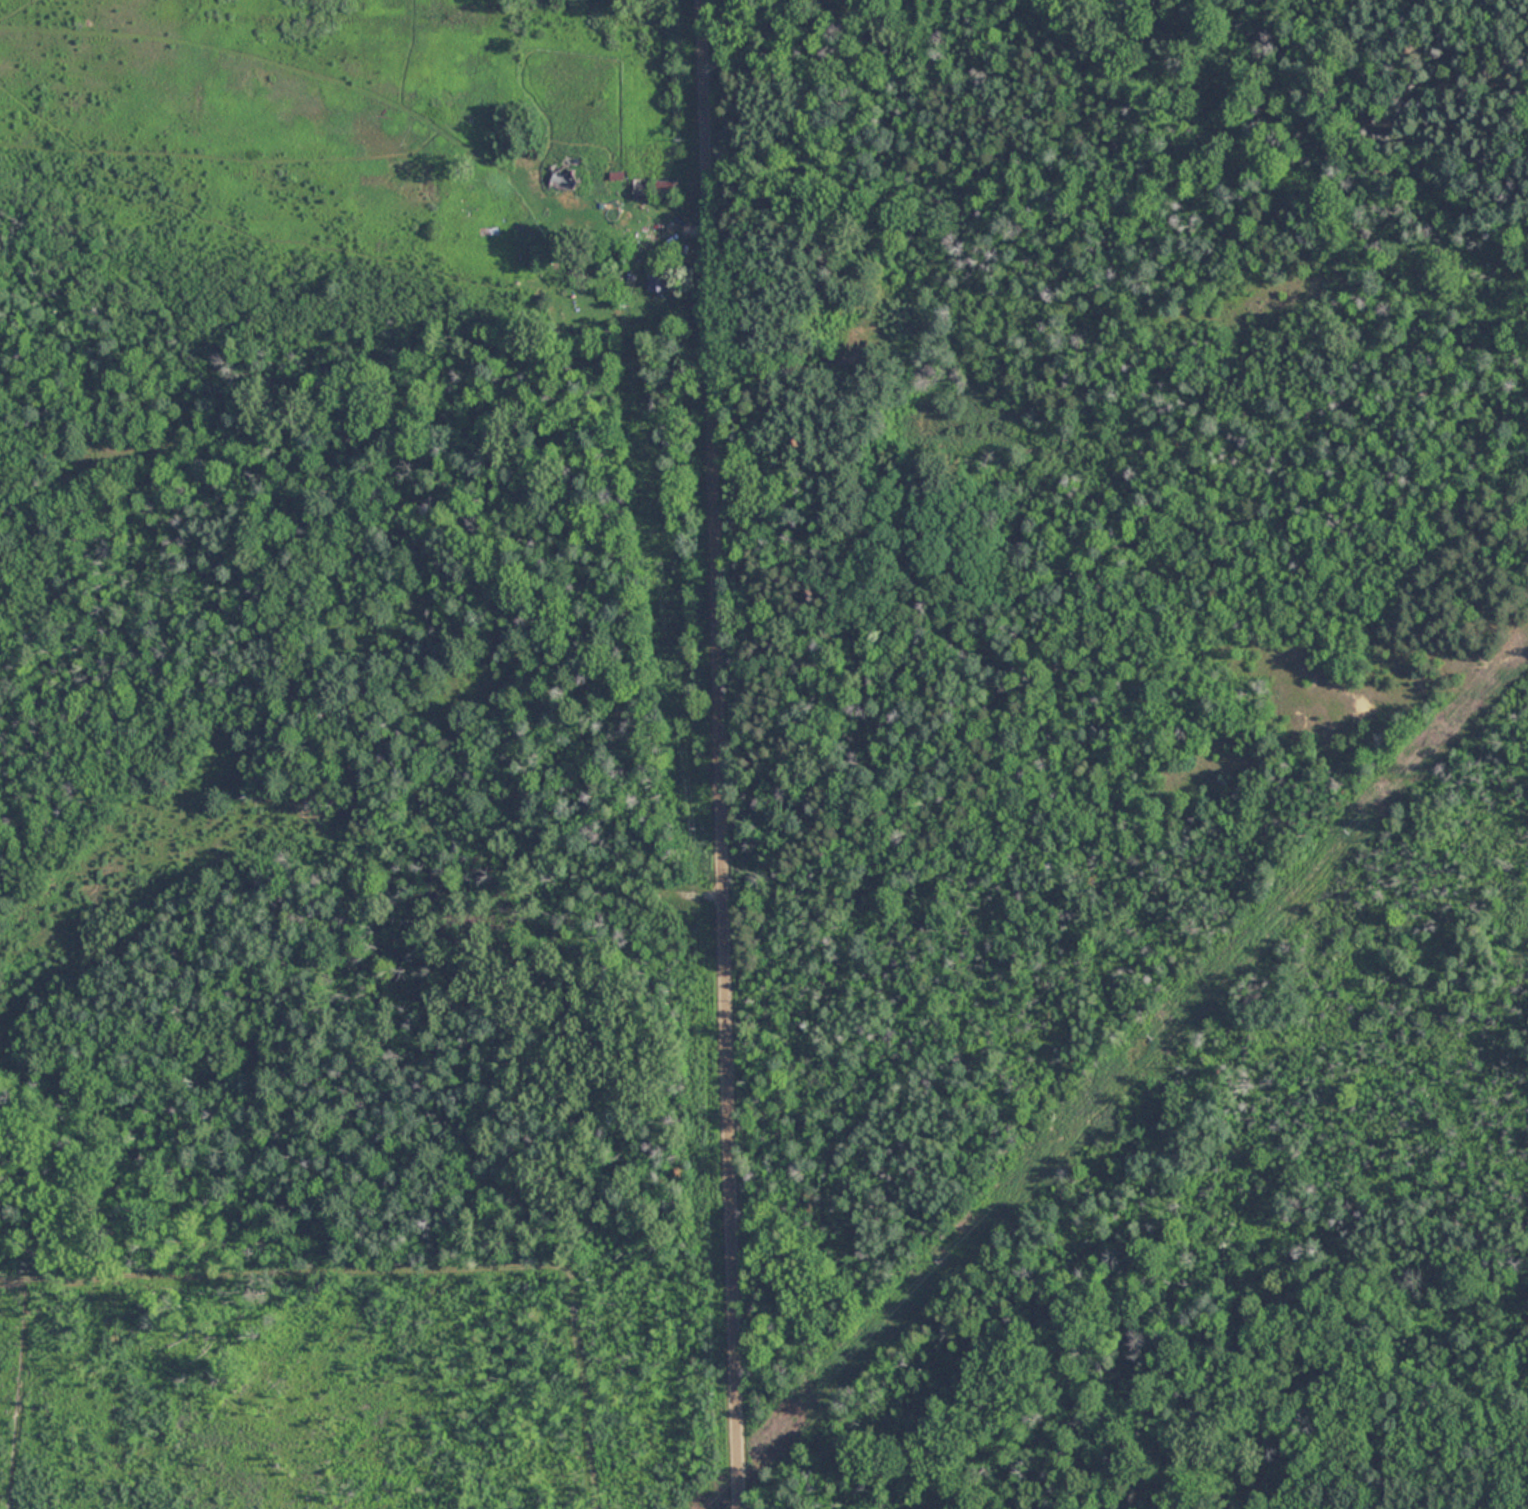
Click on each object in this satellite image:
building: (642, 188)
building: (658, 278)
road: (719, 754)
park: (851, 764)
building: (693, 906)

